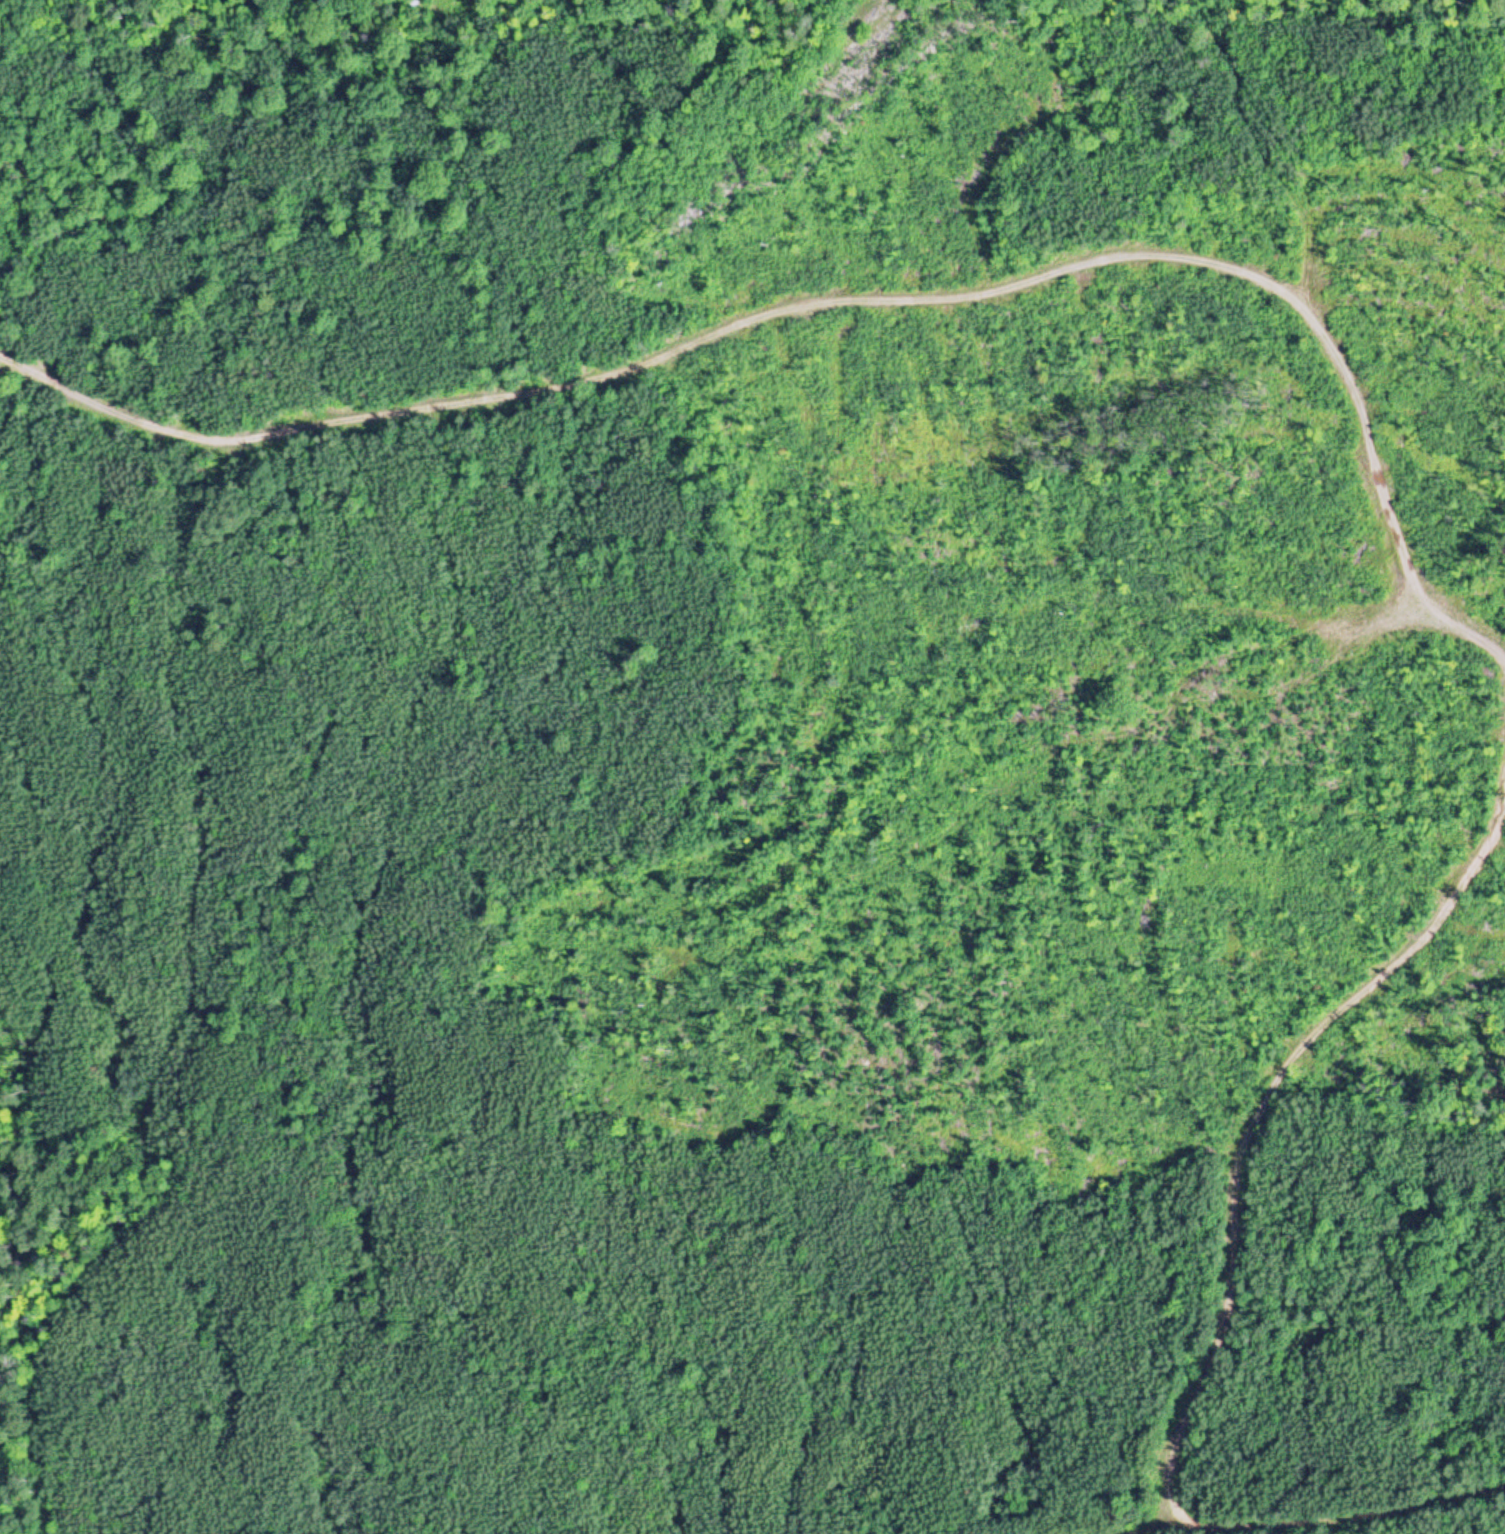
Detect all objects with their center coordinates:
road: (1348, 361)
road: (1253, 1139)
road: (1262, 1521)

